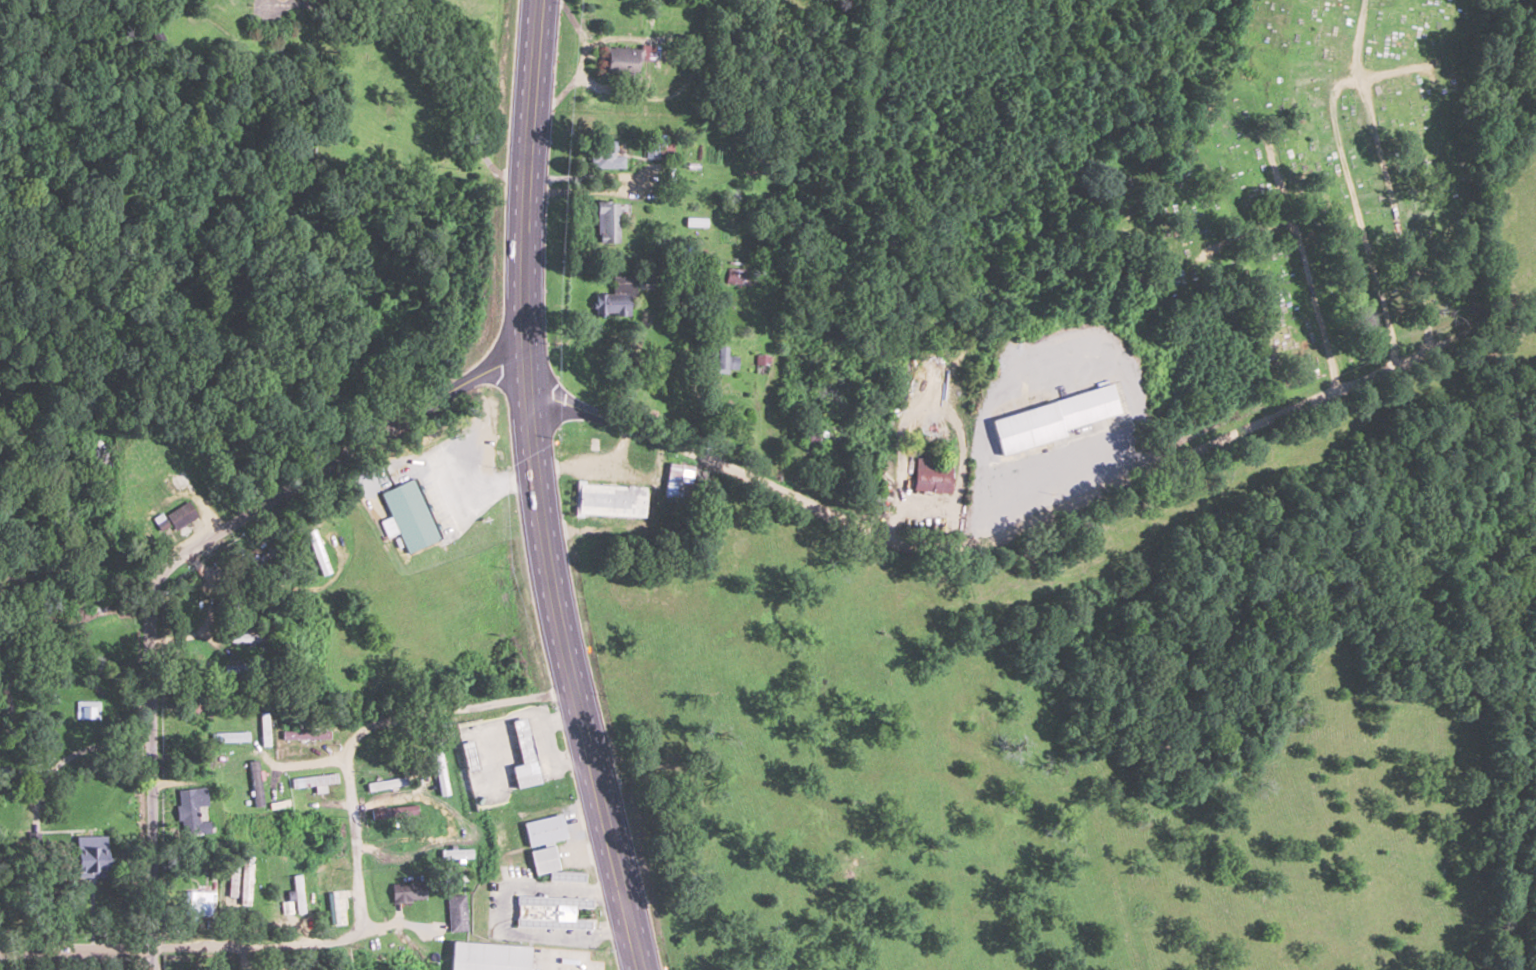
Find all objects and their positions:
building: (623, 59)
building: (606, 154)
building: (607, 222)
building: (737, 275)
building: (616, 298)
building: (722, 360)
building: (762, 363)
building: (1085, 409)
building: (824, 436)
building: (155, 472)
building: (932, 475)
road: (536, 490)
building: (610, 499)
building: (181, 515)
building: (408, 515)
road: (1038, 520)
road: (174, 566)
building: (232, 667)
building: (303, 734)
building: (229, 736)
building: (381, 740)
building: (467, 755)
building: (523, 756)
building: (315, 781)
building: (256, 783)
building: (388, 783)
building: (192, 811)
building: (395, 811)
road: (353, 824)
building: (544, 830)
building: (335, 850)
building: (89, 859)
building: (543, 860)
building: (410, 891)
building: (299, 895)
building: (196, 903)
building: (457, 912)
building: (542, 913)
road: (75, 951)
building: (489, 956)
building: (291, 969)

